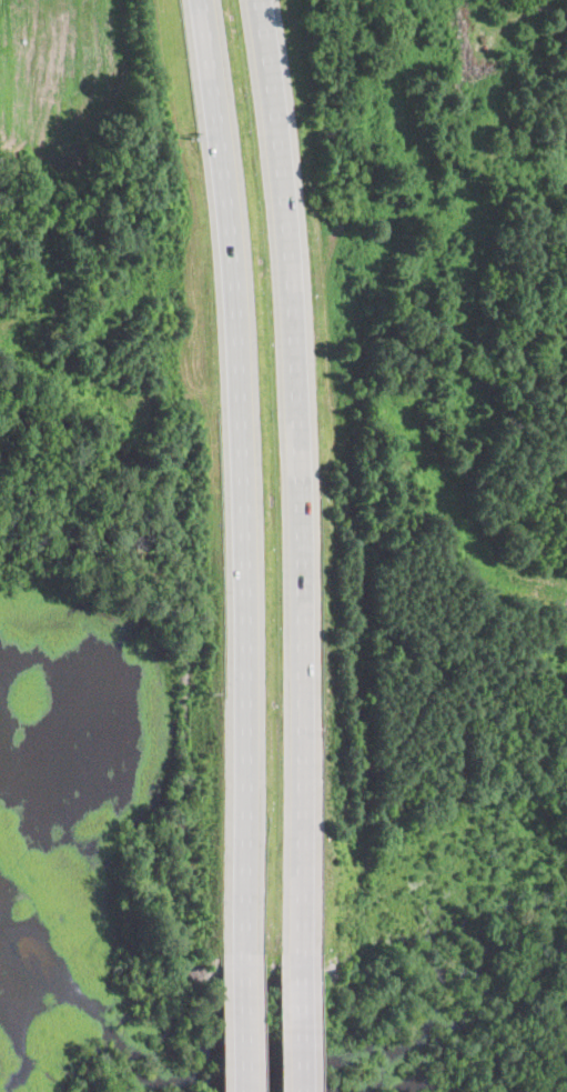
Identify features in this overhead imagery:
road: (247, 477)
road: (304, 479)
road: (245, 1023)
road: (302, 1025)
quarry: (508, 1030)

